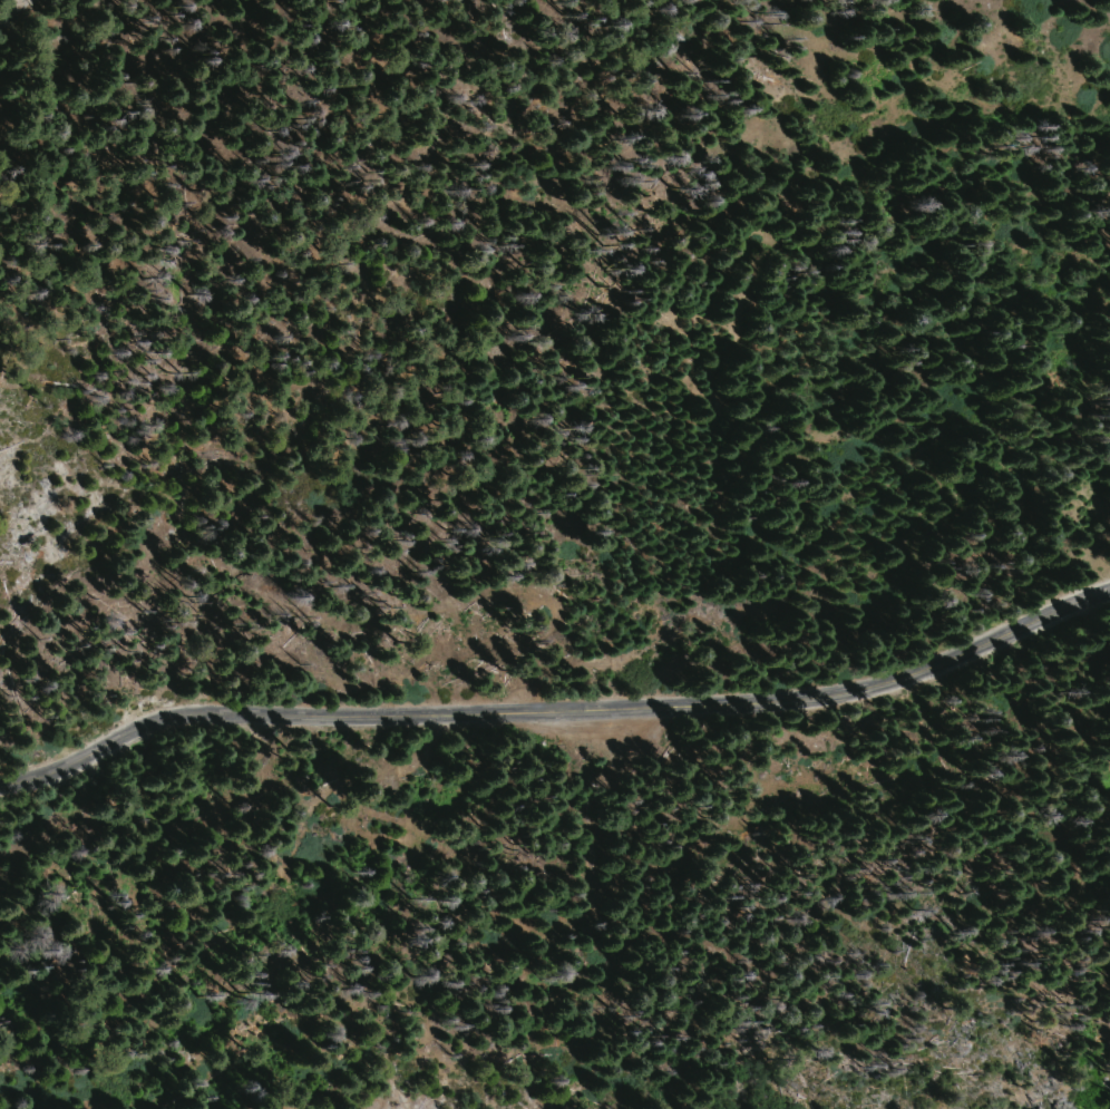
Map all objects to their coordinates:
road: (556, 723)

